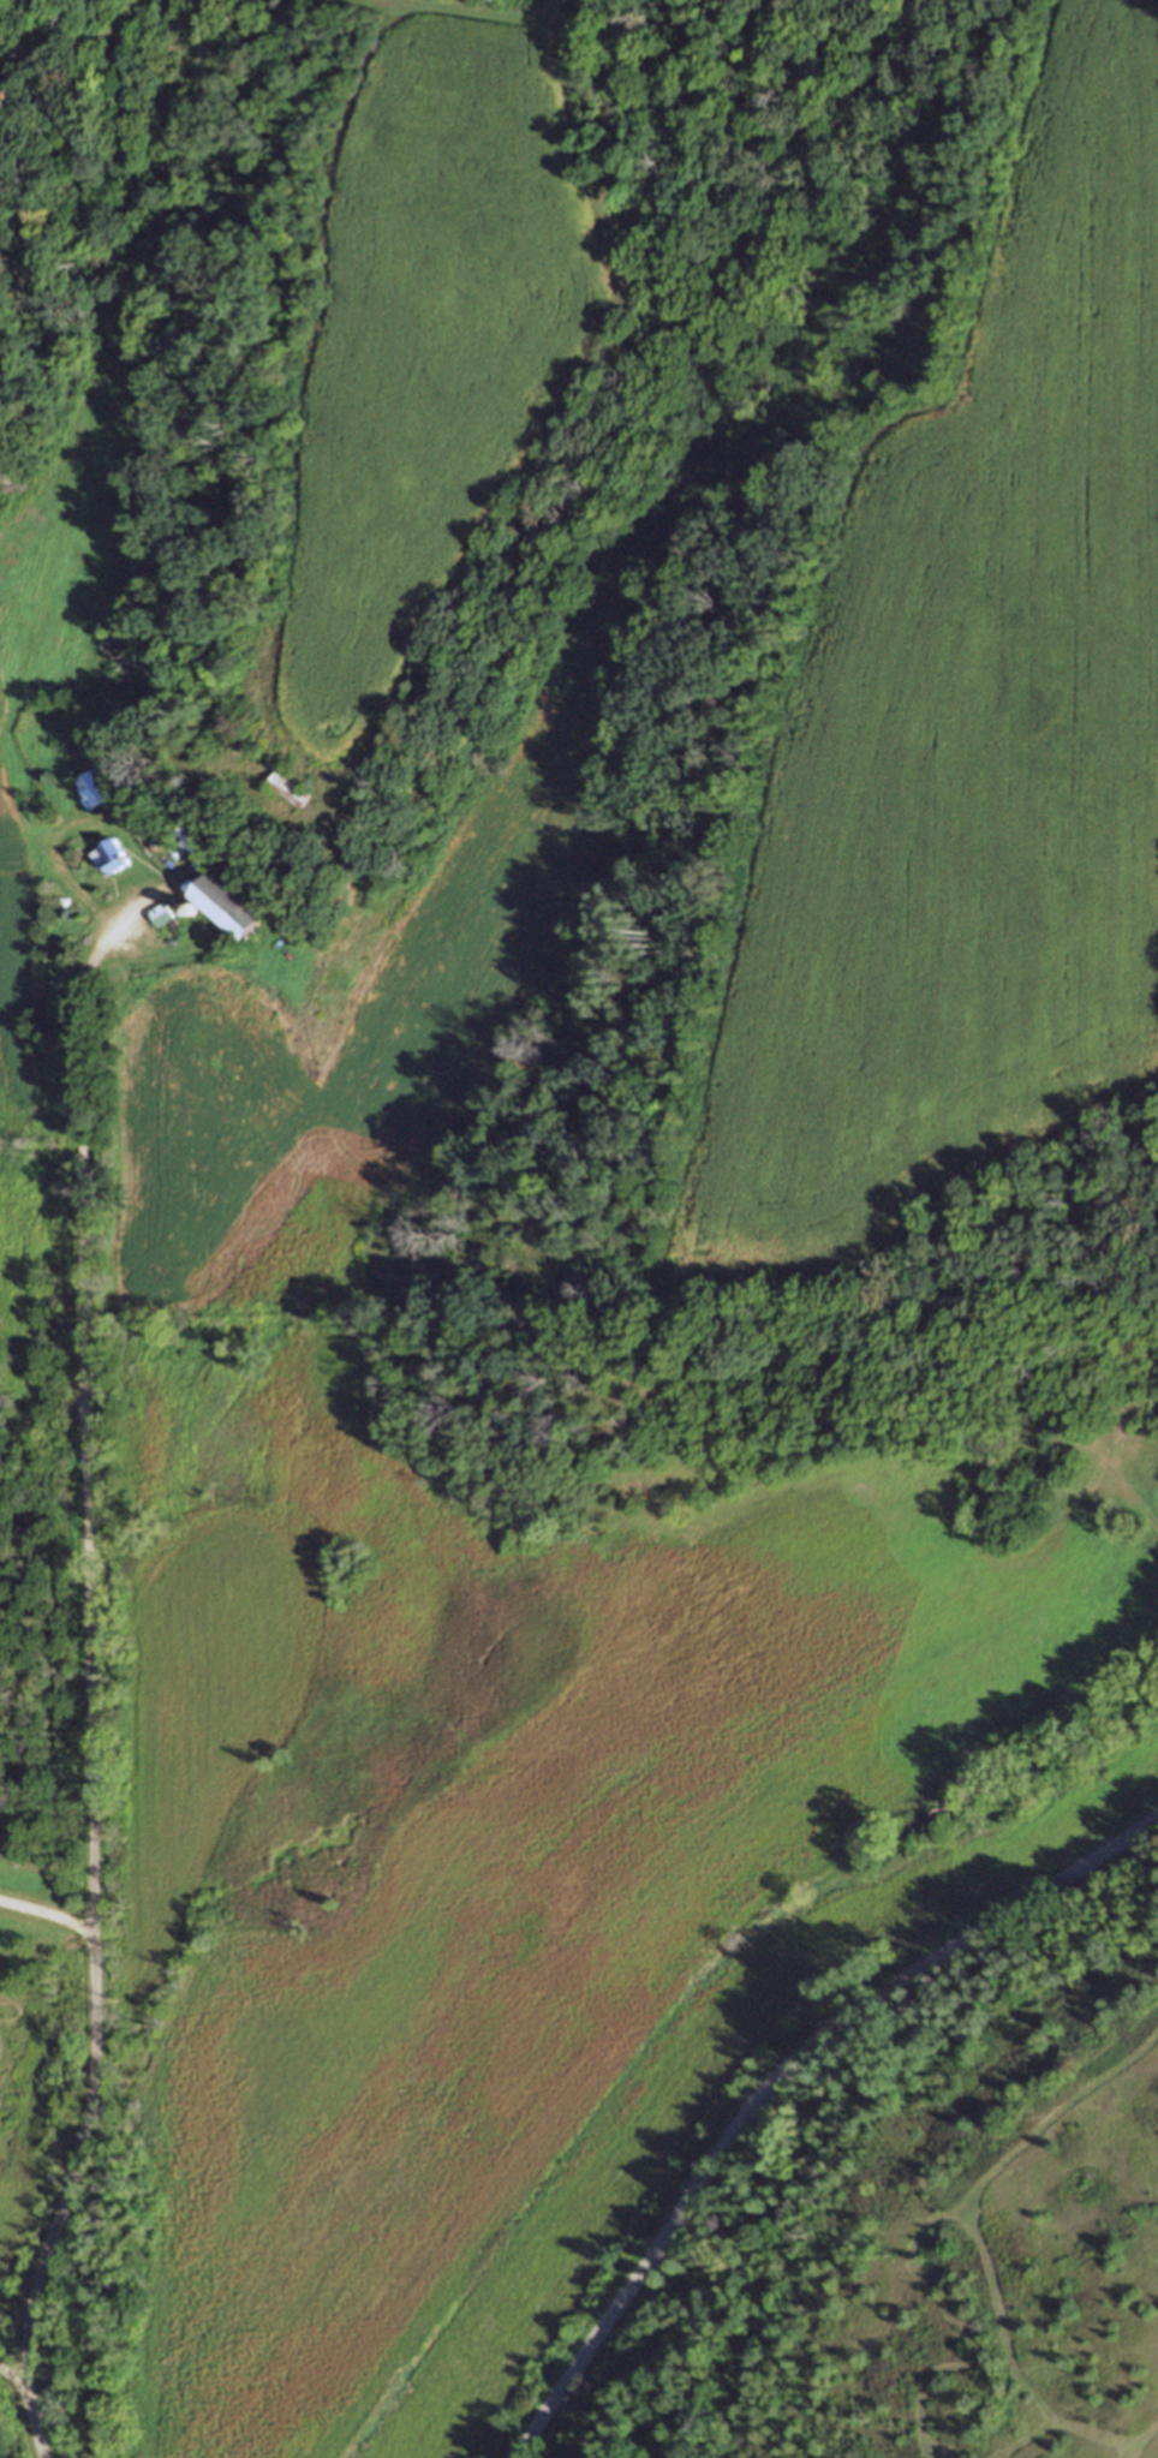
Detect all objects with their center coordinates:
building: (92, 786)
building: (293, 787)
building: (193, 835)
building: (108, 853)
building: (223, 905)
building: (162, 913)
building: (175, 927)
building: (1094, 1416)
road: (91, 1684)
road: (47, 1916)
road: (777, 2077)
road: (11, 2373)

